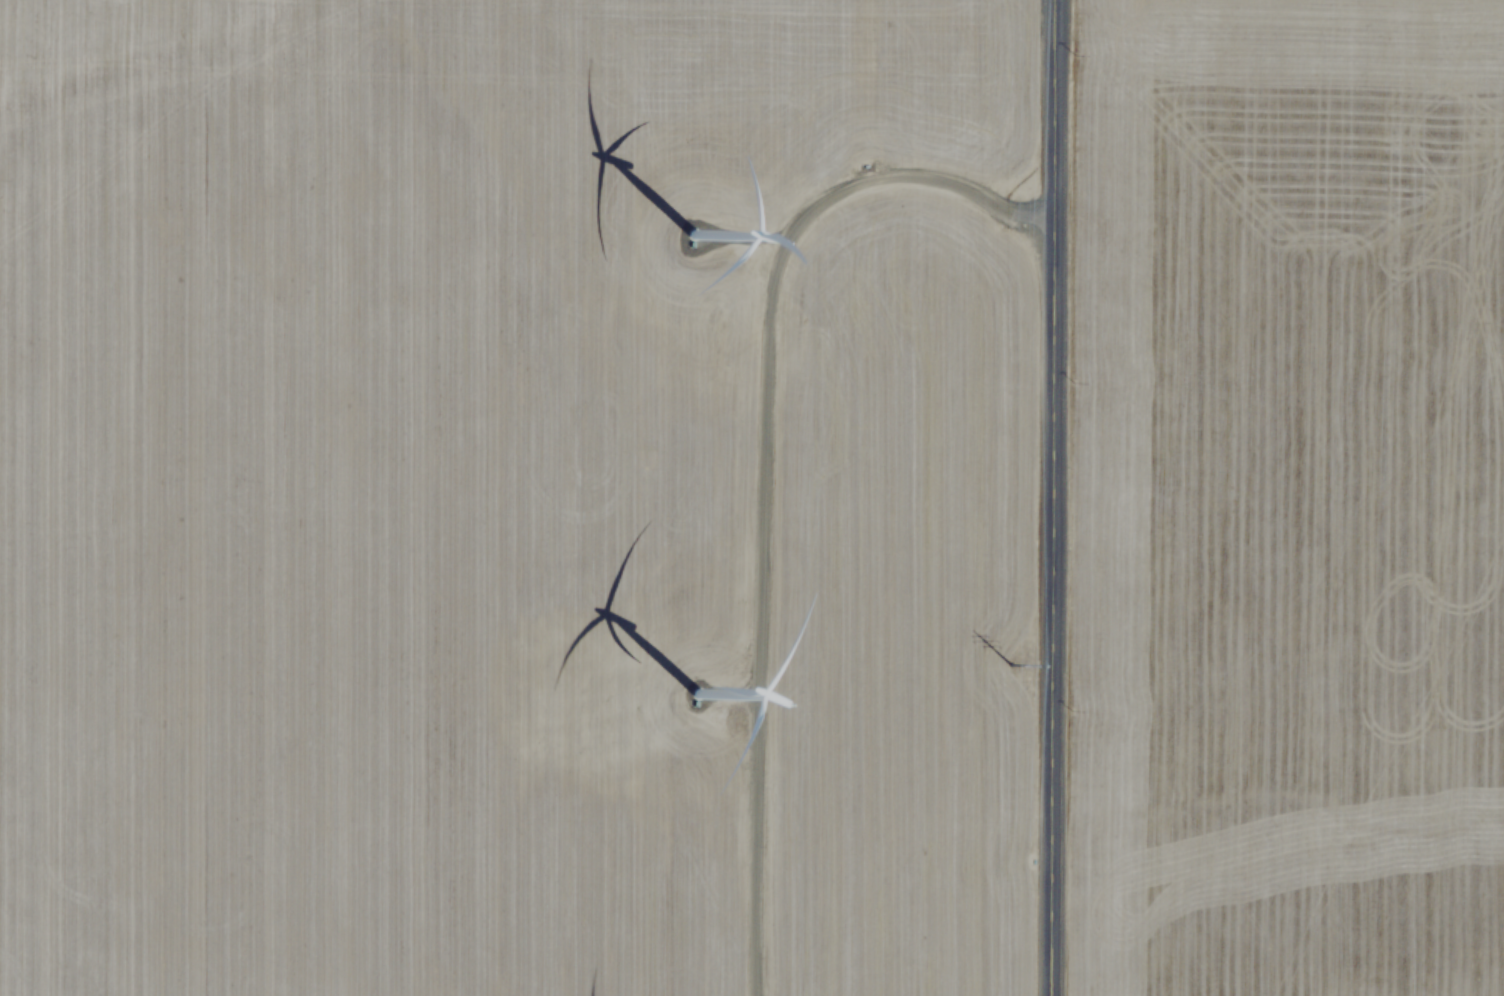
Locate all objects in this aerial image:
wind turbine: (708, 250)
road: (759, 460)
road: (1046, 497)
power tower: (1005, 654)
wind turbine: (694, 702)

